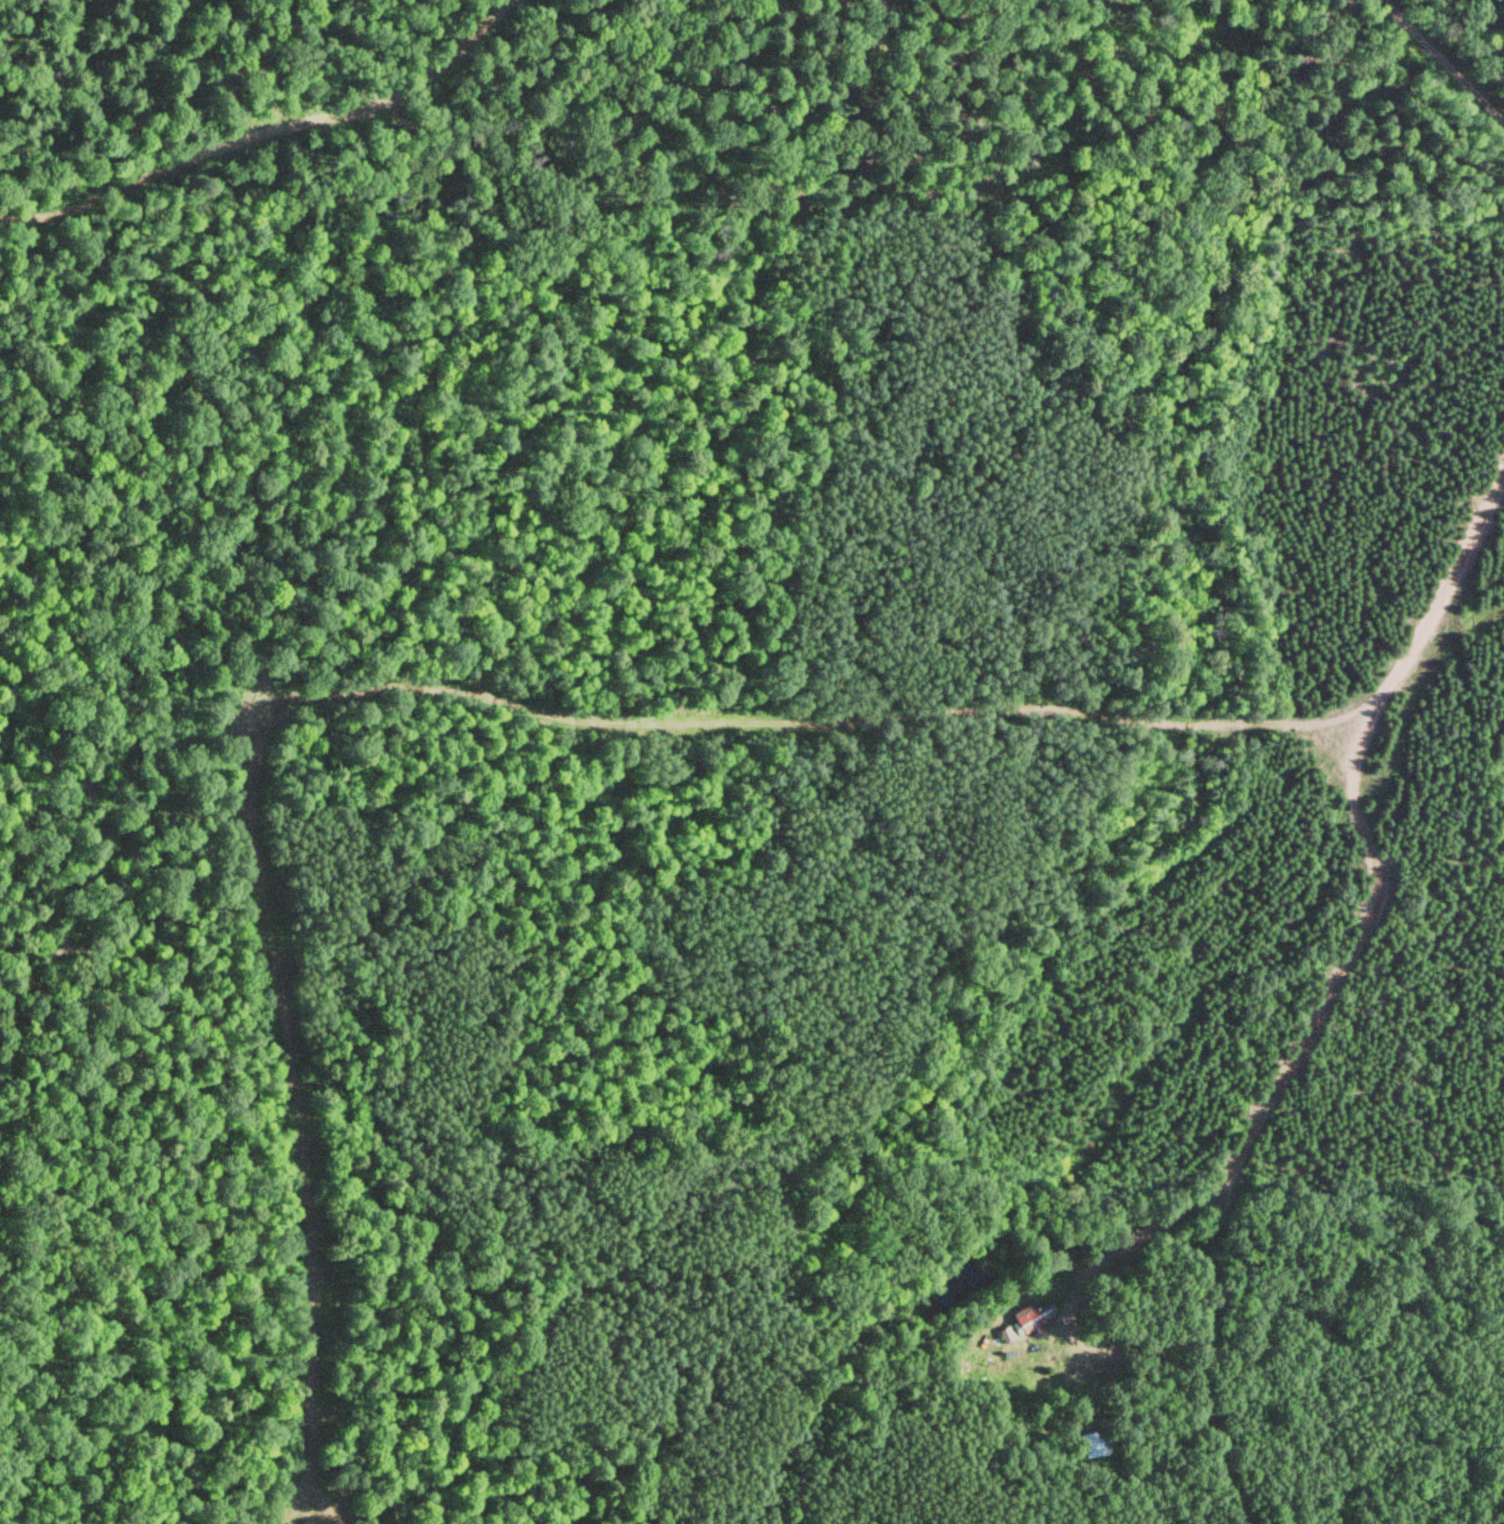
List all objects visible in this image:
road: (1428, 608)
building: (1026, 1322)
building: (1096, 1444)

